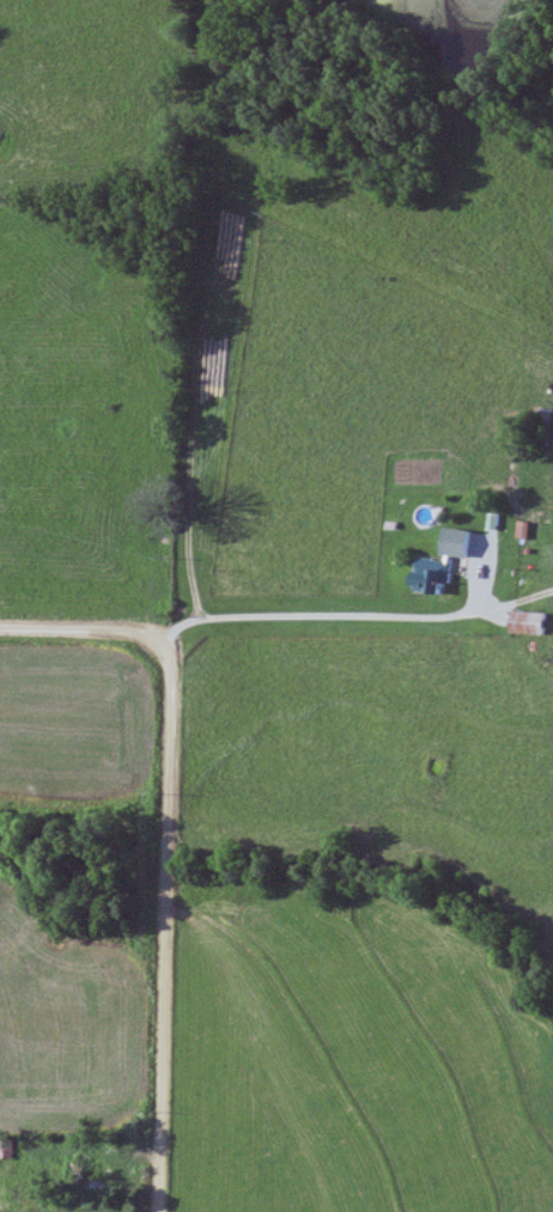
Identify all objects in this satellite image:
road: (237, 510)
building: (433, 577)
building: (530, 625)
road: (162, 848)
building: (93, 1170)

